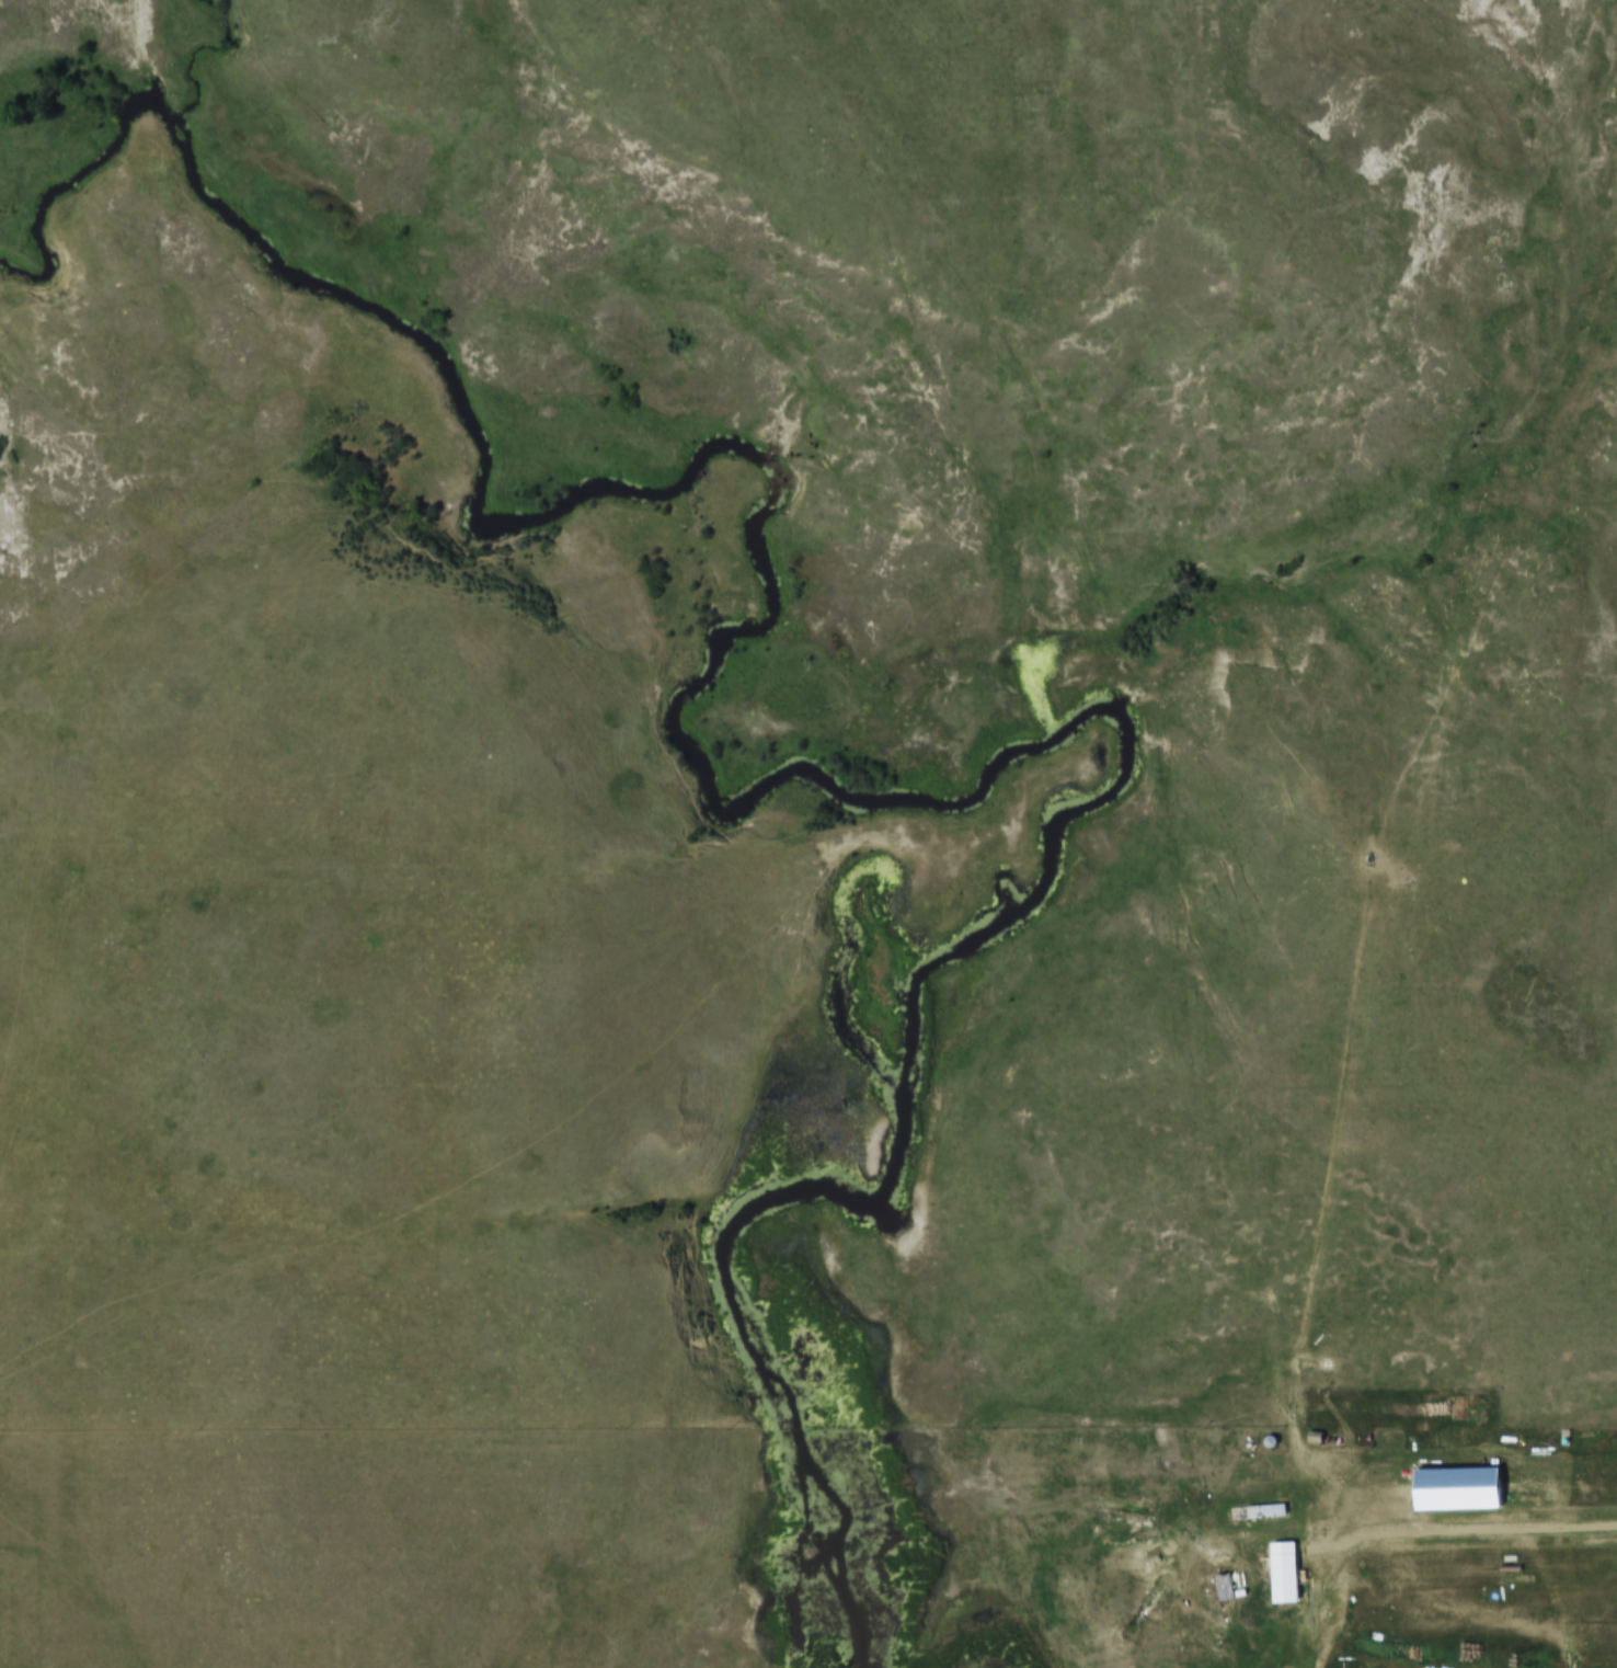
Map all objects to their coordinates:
building: (1254, 1511)
building: (1266, 1530)
building: (1226, 1586)

